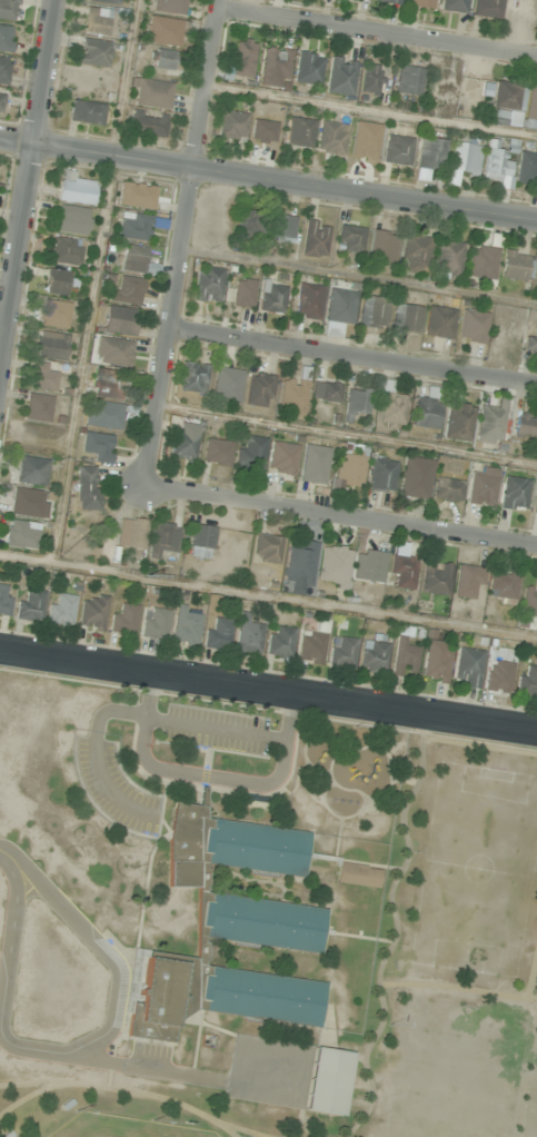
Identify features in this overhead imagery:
building: (103, 1)
building: (388, 1)
building: (421, 3)
building: (454, 6)
building: (169, 7)
building: (487, 8)
building: (8, 9)
building: (97, 21)
building: (163, 31)
building: (6, 38)
road: (376, 39)
building: (95, 52)
building: (243, 58)
building: (163, 59)
building: (275, 63)
building: (308, 69)
building: (3, 70)
building: (340, 76)
building: (370, 79)
building: (408, 80)
building: (151, 93)
building: (508, 96)
building: (1, 99)
building: (531, 109)
building: (87, 112)
building: (147, 125)
building: (232, 126)
building: (299, 132)
building: (331, 138)
building: (397, 150)
building: (431, 154)
building: (464, 158)
building: (496, 162)
building: (527, 168)
road: (268, 184)
building: (74, 189)
building: (137, 196)
road: (31, 198)
building: (72, 220)
building: (250, 223)
building: (135, 226)
building: (282, 228)
building: (350, 238)
building: (315, 239)
road: (183, 244)
building: (381, 247)
building: (66, 251)
building: (415, 254)
building: (448, 258)
building: (137, 260)
building: (481, 261)
building: (515, 266)
building: (535, 279)
building: (56, 281)
building: (208, 285)
building: (127, 291)
building: (271, 297)
building: (309, 301)
building: (340, 306)
building: (372, 313)
building: (56, 315)
building: (406, 318)
building: (120, 320)
building: (439, 323)
building: (473, 326)
building: (531, 342)
building: (50, 346)
building: (112, 352)
road: (355, 358)
building: (43, 377)
building: (193, 377)
building: (106, 384)
building: (227, 385)
building: (259, 389)
building: (325, 392)
building: (292, 395)
building: (356, 404)
building: (390, 407)
building: (38, 408)
building: (427, 409)
building: (106, 415)
building: (458, 422)
building: (490, 424)
building: (526, 425)
building: (183, 444)
building: (98, 446)
building: (217, 452)
building: (250, 454)
building: (282, 457)
building: (315, 464)
building: (31, 471)
building: (348, 471)
building: (381, 475)
building: (416, 477)
building: (483, 486)
building: (87, 488)
building: (448, 491)
building: (514, 494)
building: (28, 503)
building: (536, 503)
road: (341, 517)
building: (131, 533)
building: (20, 535)
building: (163, 540)
building: (200, 542)
building: (266, 548)
building: (300, 564)
building: (368, 565)
building: (334, 567)
building: (401, 572)
building: (436, 579)
building: (469, 582)
building: (503, 585)
building: (4, 600)
building: (529, 602)
building: (31, 606)
building: (61, 610)
building: (93, 612)
building: (125, 619)
building: (155, 623)
building: (186, 626)
building: (218, 634)
building: (248, 635)
building: (280, 642)
building: (311, 647)
building: (342, 652)
building: (375, 652)
building: (405, 654)
building: (437, 661)
building: (468, 668)
building: (498, 676)
building: (527, 681)
road: (268, 691)
road: (126, 713)
road: (208, 777)
road: (9, 859)
building: (279, 871)
building: (357, 874)
road: (82, 930)
building: (211, 996)
building: (328, 1081)
park: (119, 1128)

